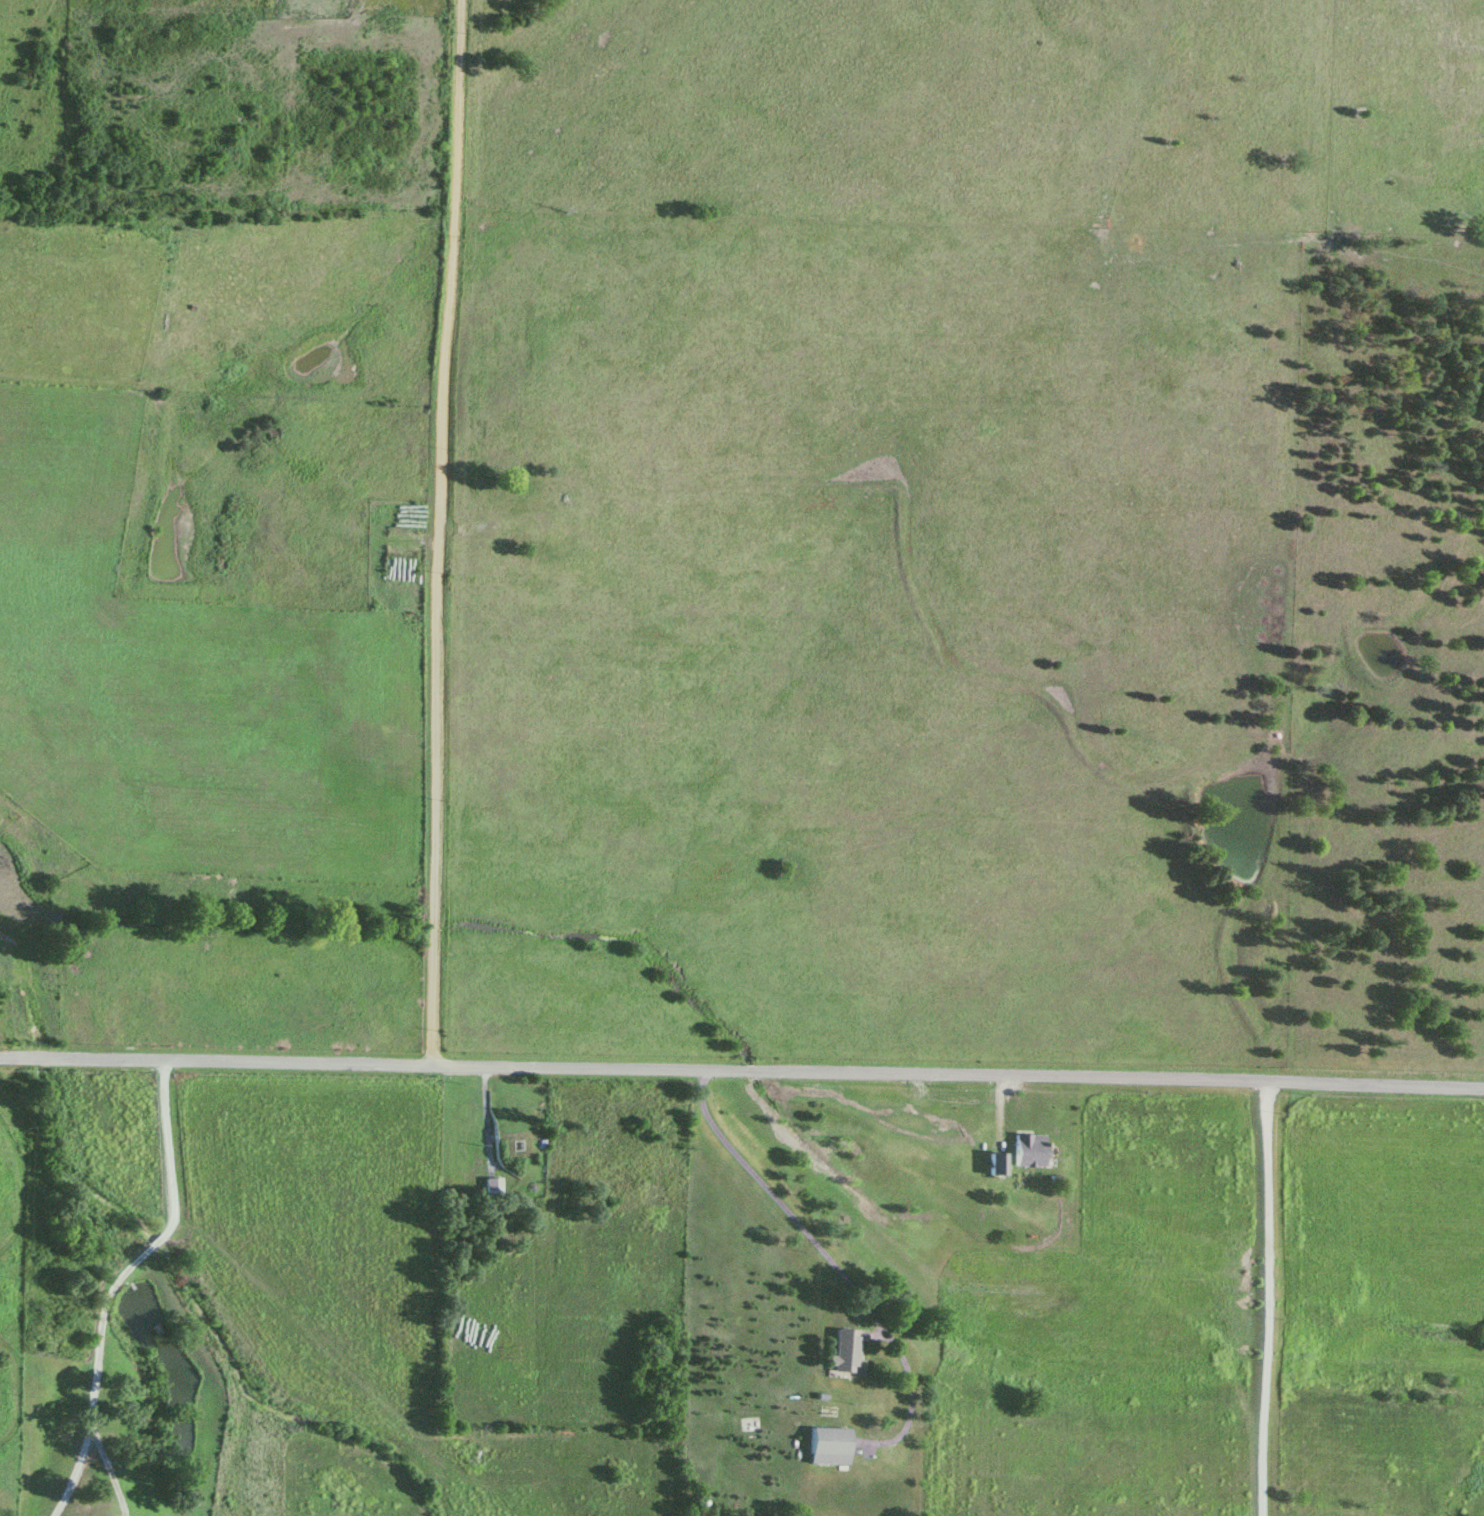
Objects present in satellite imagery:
road: (432, 533)
road: (742, 1074)
building: (1021, 1151)
building: (989, 1165)
building: (489, 1186)
road: (833, 1262)
road: (109, 1284)
road: (1264, 1300)
building: (844, 1353)
building: (822, 1446)

